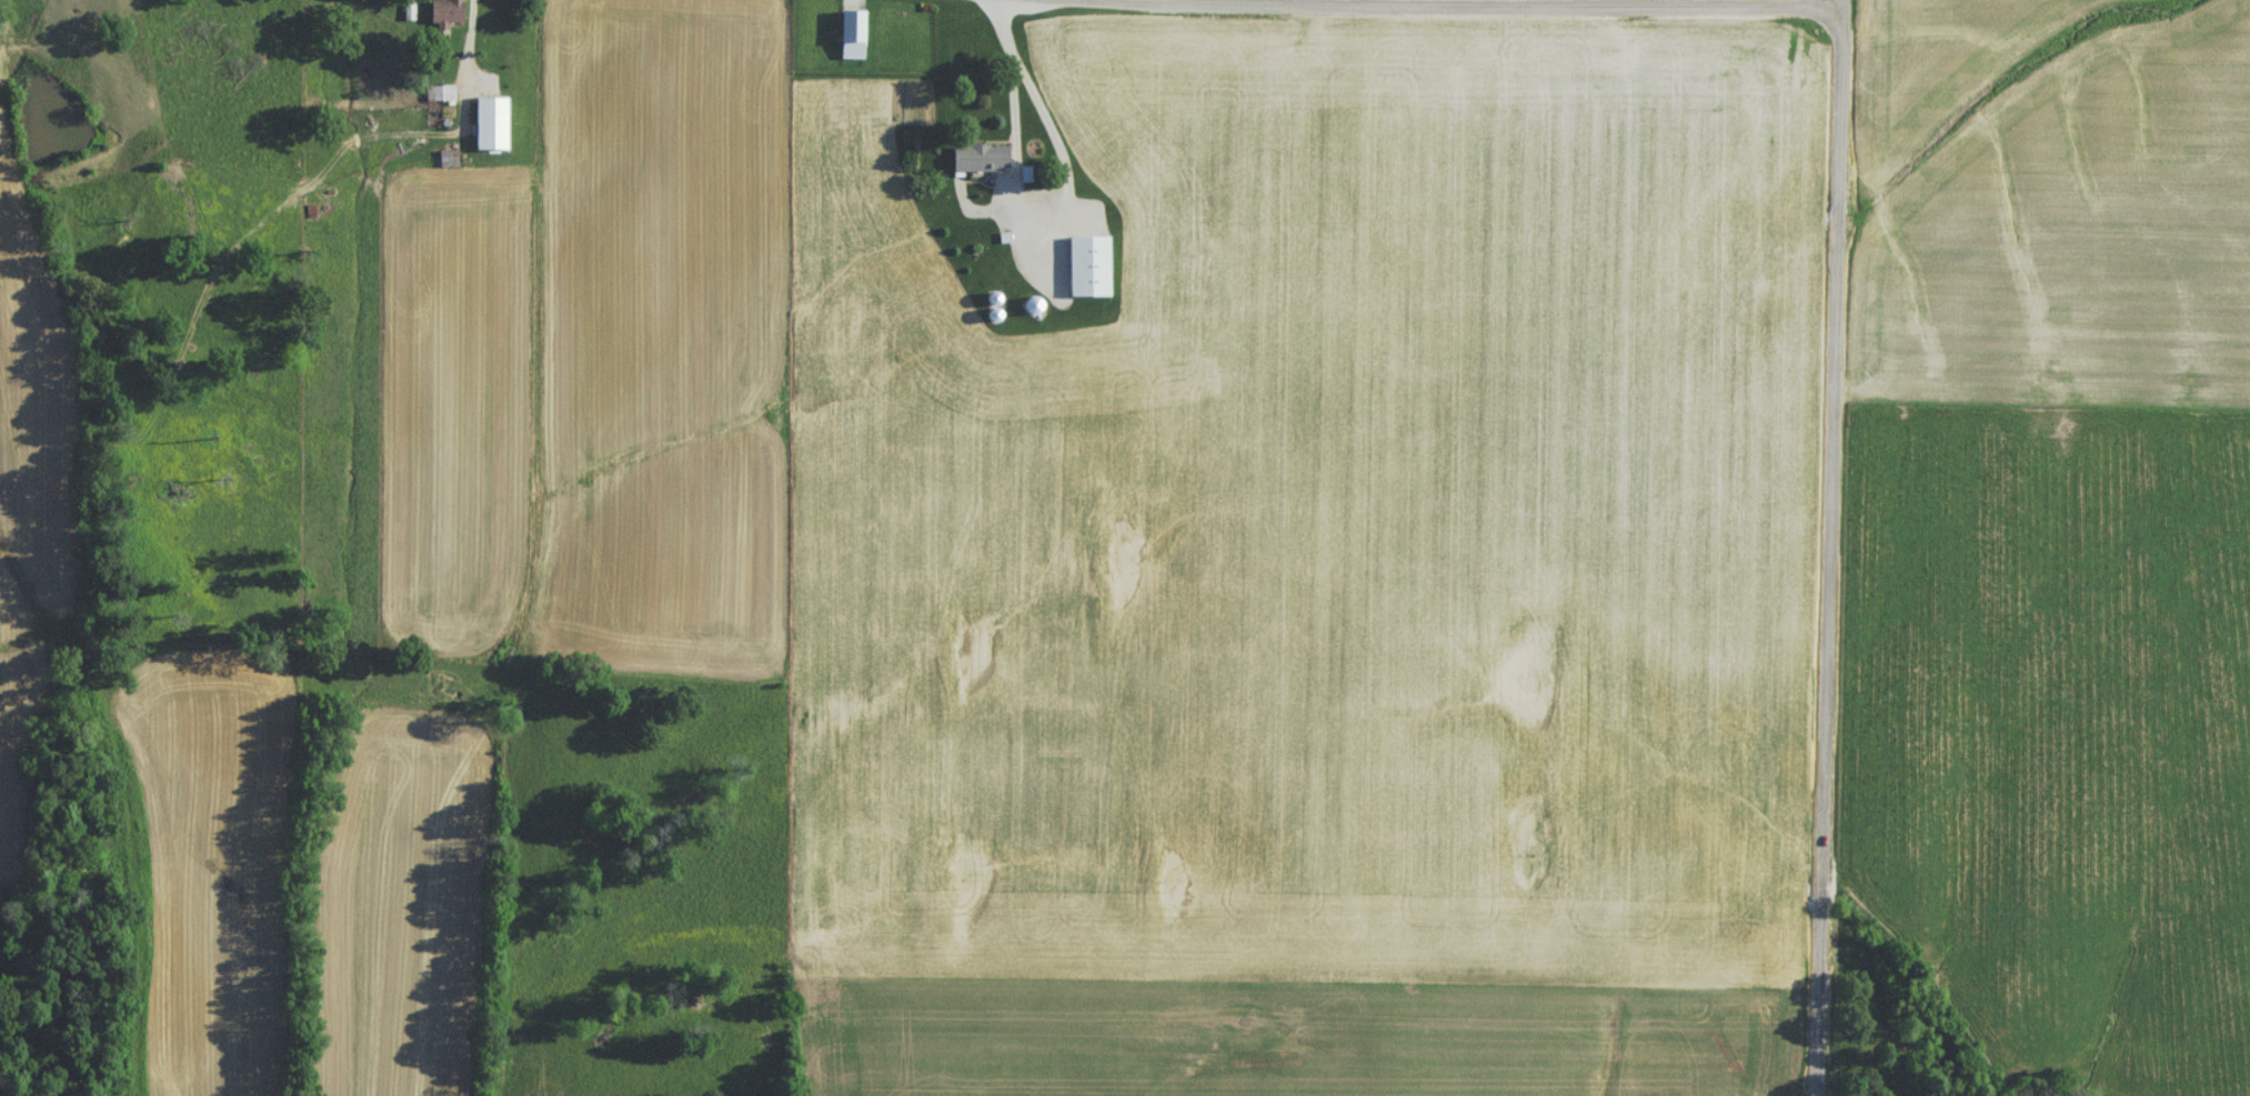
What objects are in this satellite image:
road: (1488, 7)
building: (446, 17)
road: (1006, 29)
building: (851, 31)
road: (464, 67)
building: (440, 98)
building: (493, 128)
building: (448, 163)
building: (982, 163)
road: (1013, 195)
building: (1088, 271)
road: (1831, 547)

